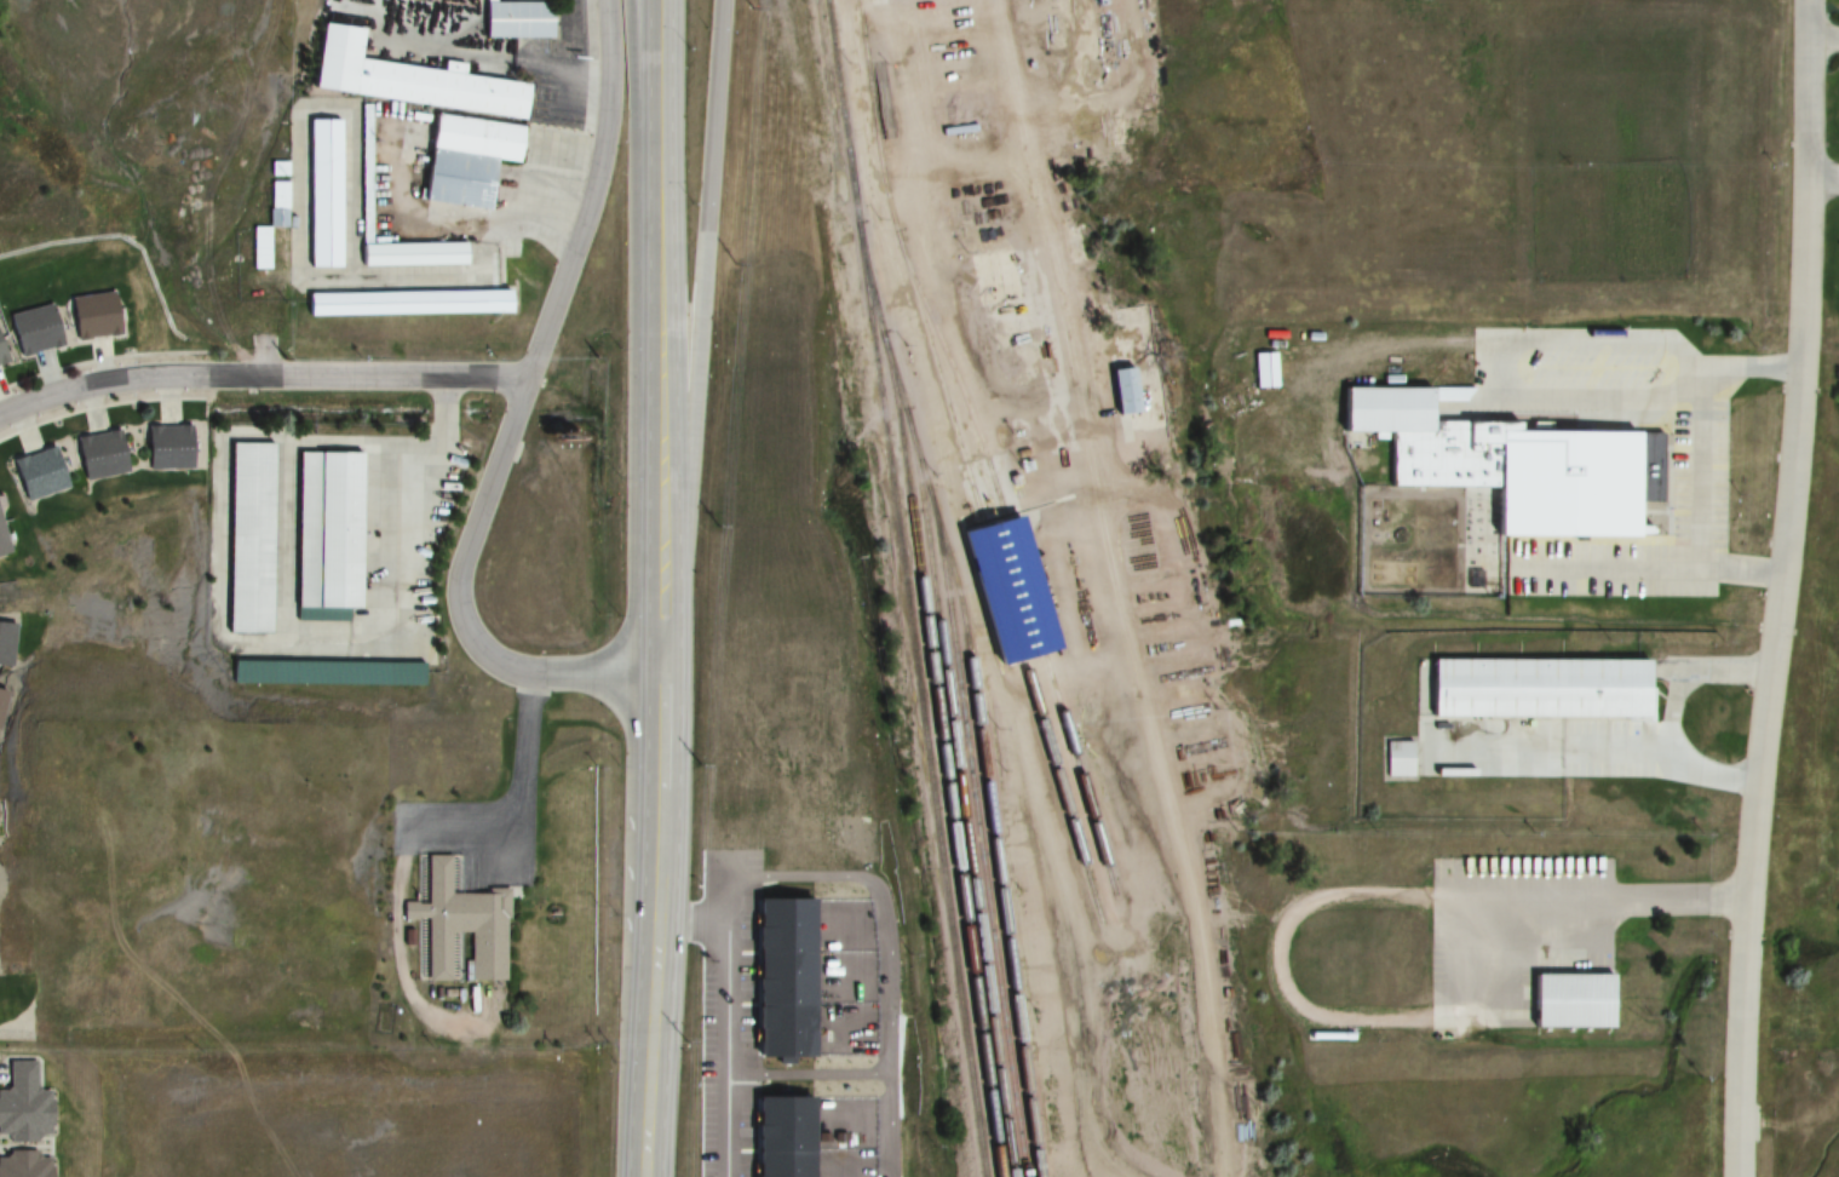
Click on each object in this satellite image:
building: (513, 21)
building: (406, 81)
railway: (874, 125)
railway: (843, 126)
road: (657, 143)
building: (1139, 156)
building: (462, 161)
building: (363, 174)
building: (322, 195)
building: (402, 304)
railway: (873, 304)
road: (700, 308)
building: (93, 323)
building: (34, 332)
road: (634, 337)
building: (0, 362)
road: (262, 375)
building: (1121, 390)
railway: (900, 397)
road: (1684, 404)
building: (1381, 410)
road: (515, 418)
building: (167, 449)
road: (657, 450)
building: (99, 457)
railway: (923, 472)
building: (39, 475)
road: (1696, 482)
building: (1561, 486)
building: (323, 530)
building: (248, 535)
building: (1, 546)
road: (1689, 559)
railway: (1017, 567)
railway: (999, 584)
road: (1782, 588)
building: (1006, 591)
building: (7, 641)
road: (659, 644)
building: (1534, 690)
building: (1, 699)
road: (1670, 711)
railway: (921, 713)
road: (1551, 752)
building: (1397, 759)
railway: (943, 767)
road: (529, 776)
railway: (960, 806)
railway: (993, 840)
railway: (978, 842)
road: (655, 850)
road: (628, 851)
road: (1312, 901)
building: (464, 921)
building: (1569, 1000)
road: (648, 1102)
building: (23, 1104)
building: (24, 1164)

